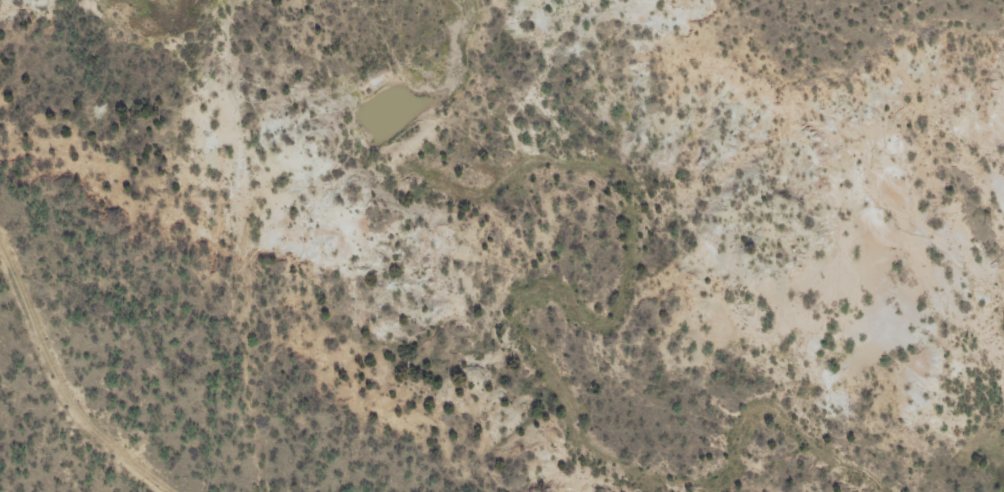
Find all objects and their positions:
road: (75, 397)

